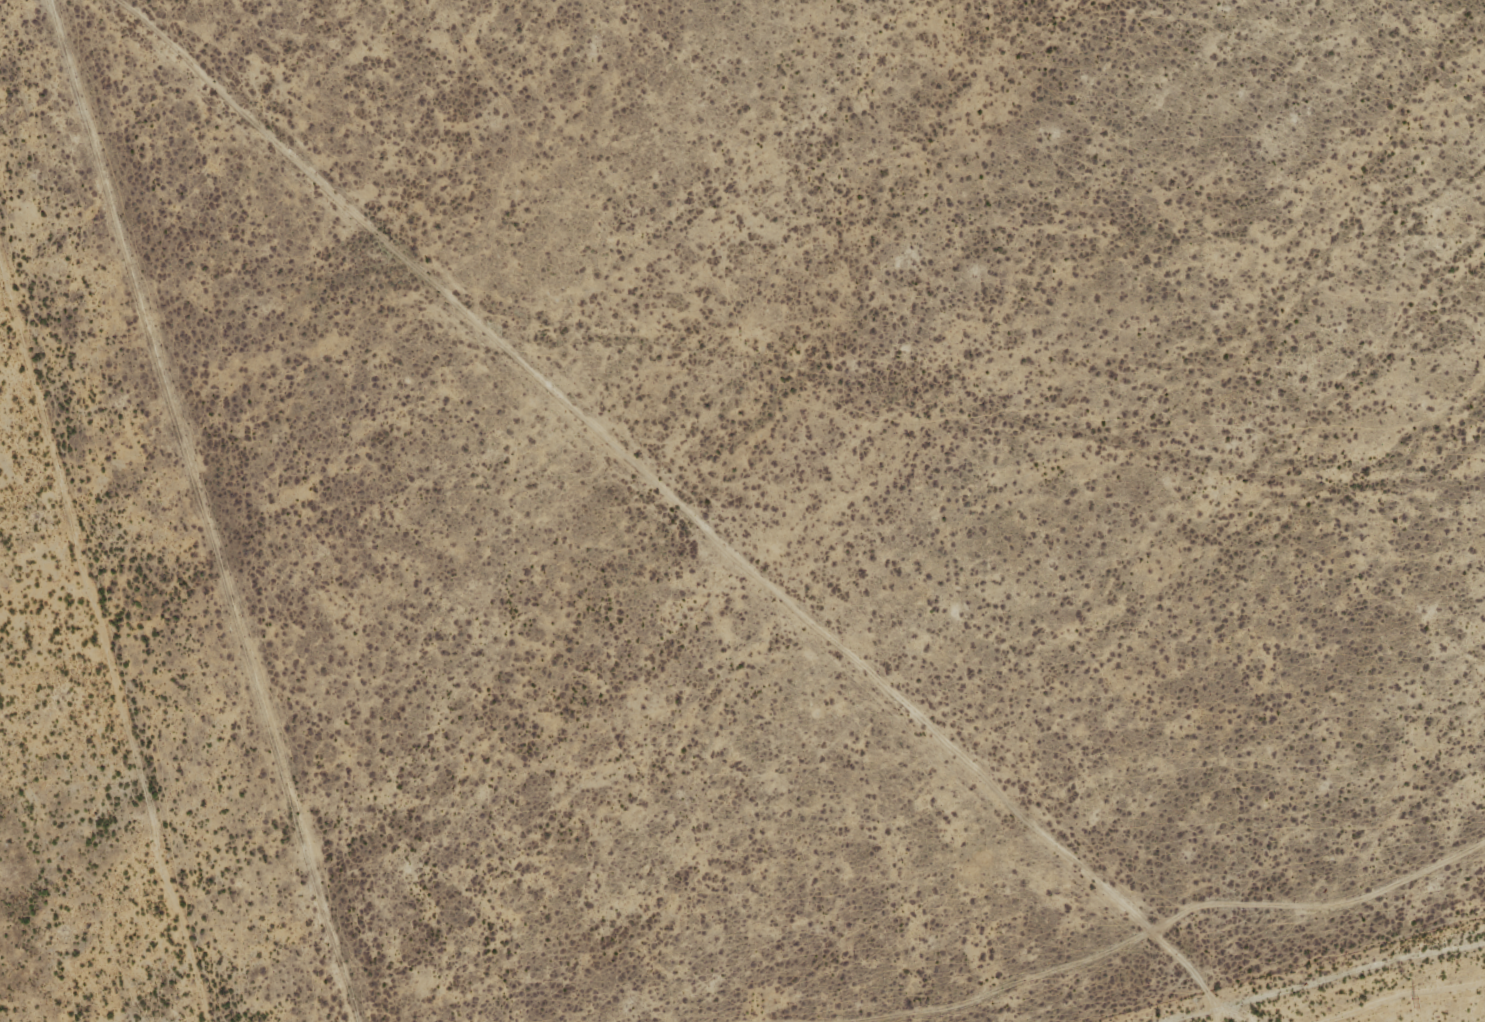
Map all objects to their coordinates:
power tower: (1410, 1003)

